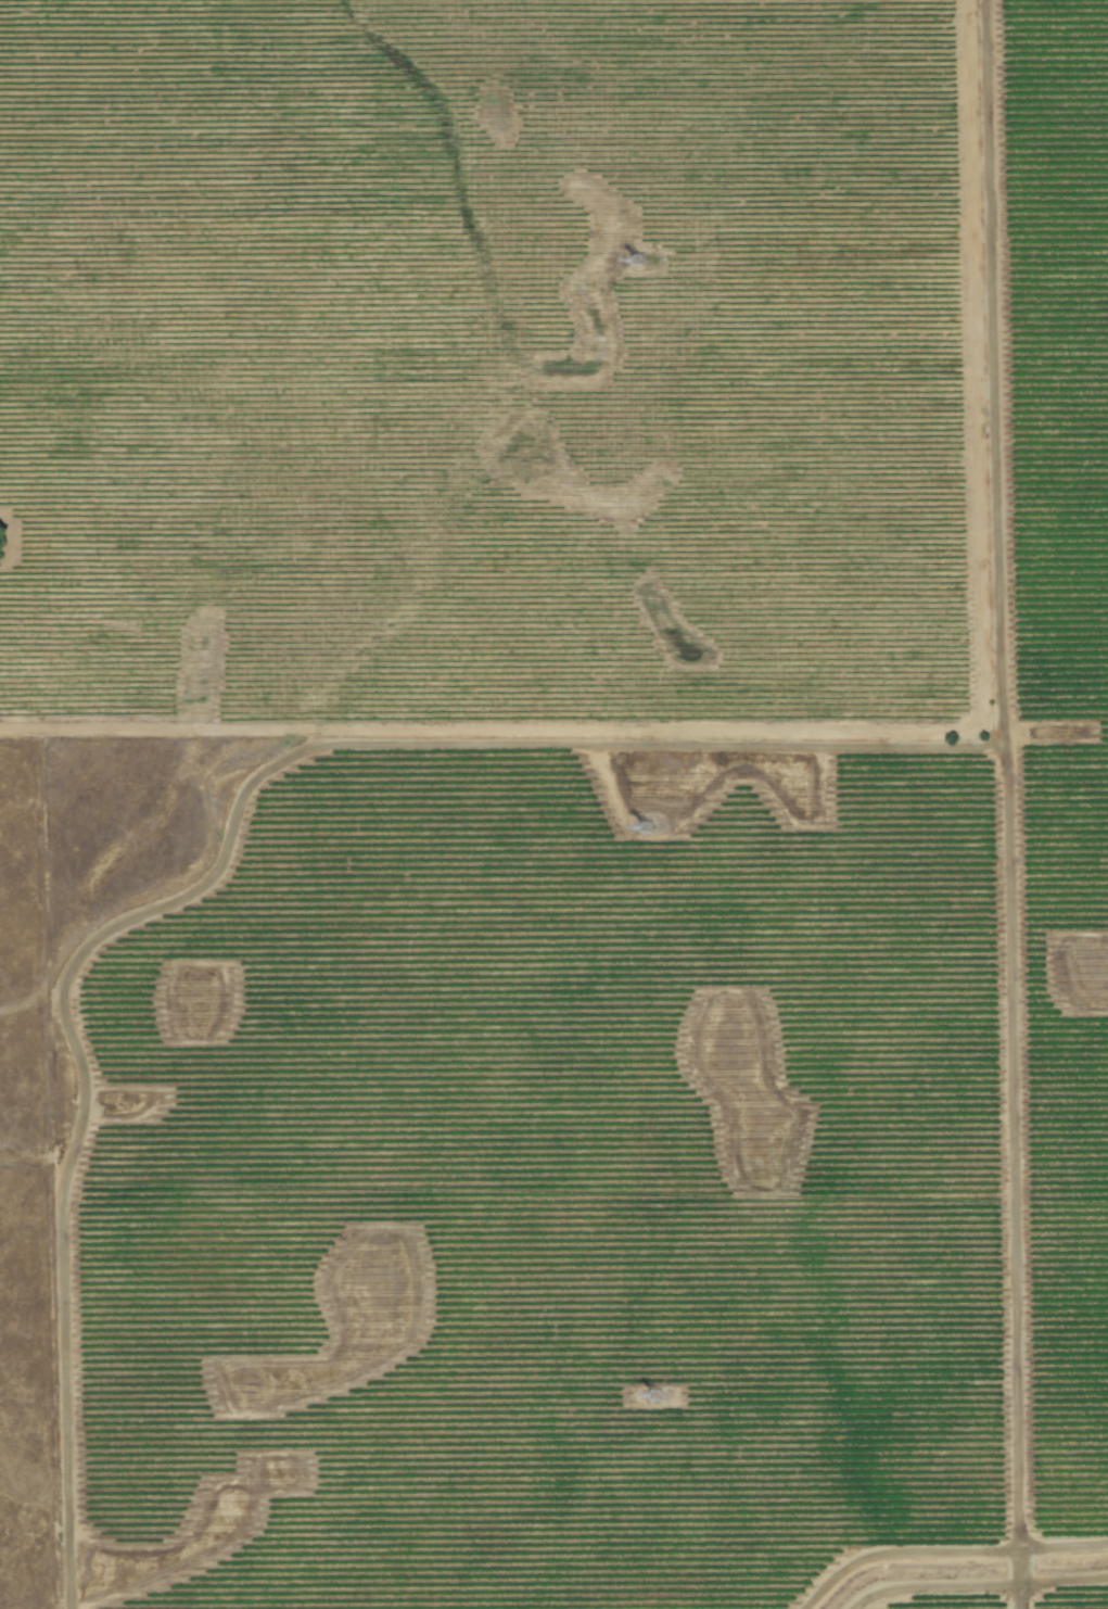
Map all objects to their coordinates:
power tower: (644, 257)
power tower: (651, 824)
power tower: (661, 1395)
crop: (995, 1589)

